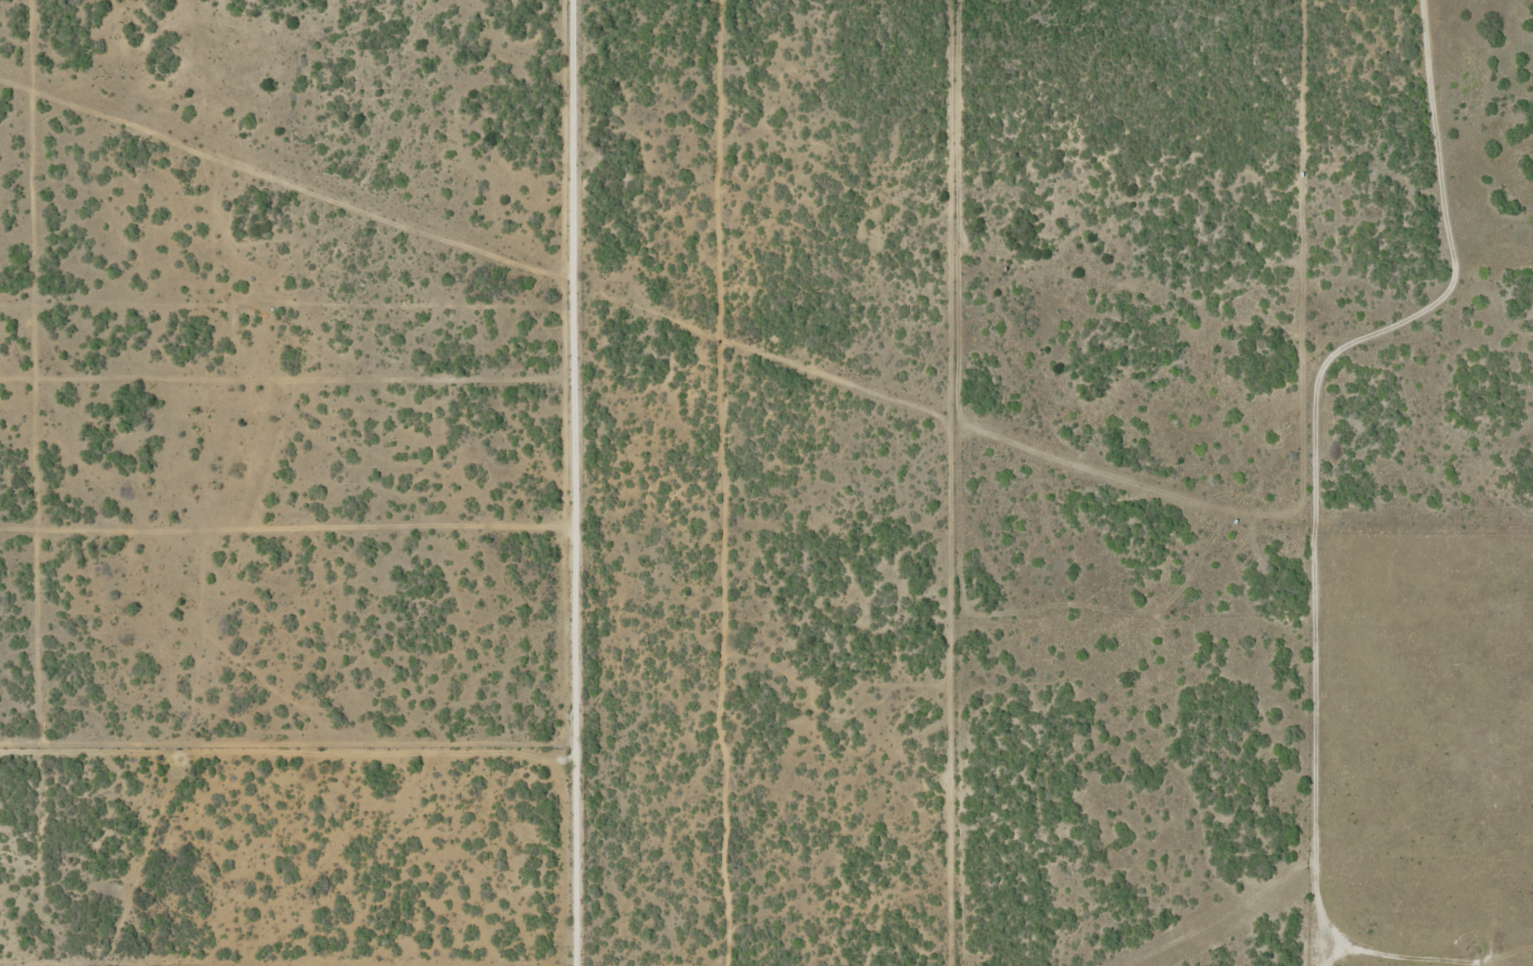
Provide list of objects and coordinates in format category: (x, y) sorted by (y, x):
road: (581, 483)

